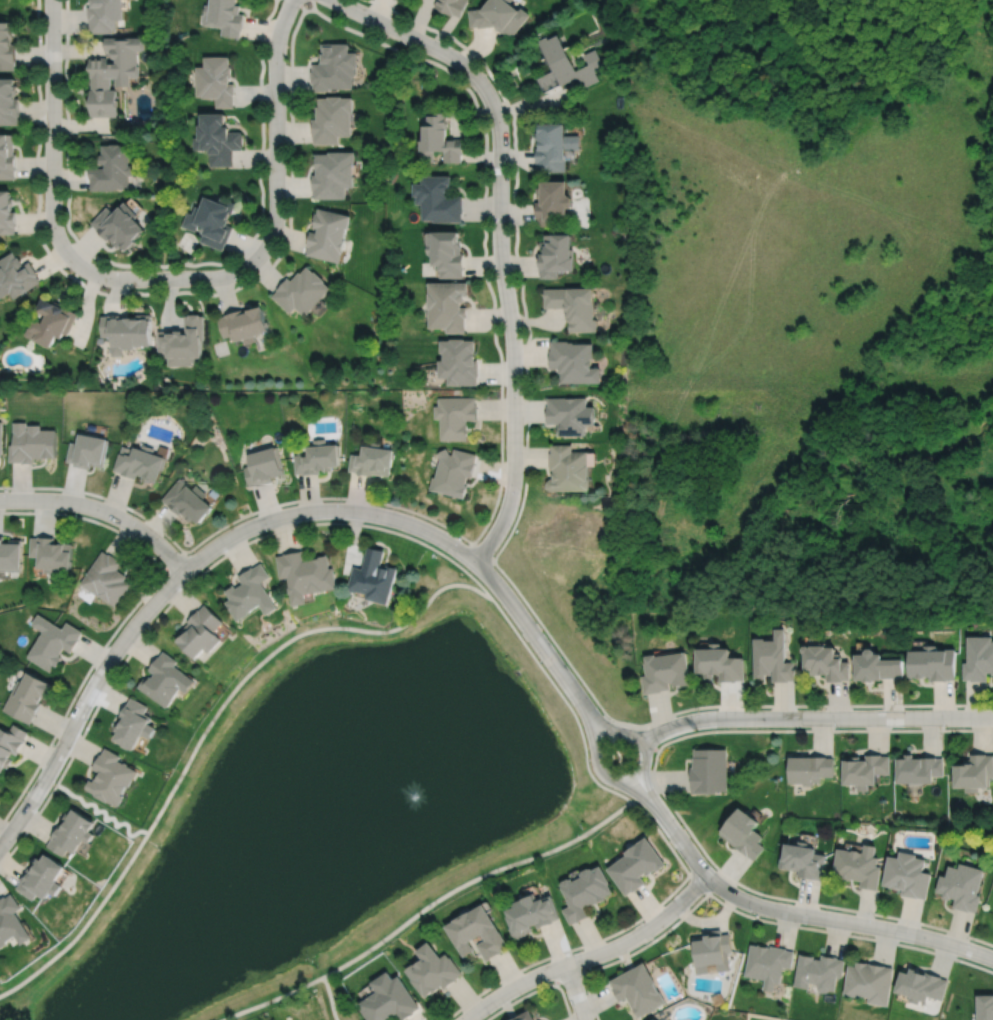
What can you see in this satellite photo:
building: (451, 5)
building: (104, 15)
building: (499, 15)
building: (223, 16)
road: (410, 36)
building: (6, 46)
building: (567, 63)
building: (334, 66)
building: (112, 73)
building: (214, 79)
building: (8, 101)
road: (475, 101)
building: (331, 118)
building: (216, 138)
building: (439, 139)
building: (553, 146)
building: (6, 156)
building: (112, 169)
building: (332, 174)
road: (276, 177)
road: (52, 182)
building: (438, 198)
building: (552, 202)
building: (6, 214)
building: (210, 220)
building: (119, 226)
building: (327, 234)
building: (446, 252)
building: (556, 255)
road: (165, 265)
building: (15, 276)
building: (300, 291)
building: (447, 305)
building: (572, 305)
building: (50, 323)
building: (242, 324)
road: (510, 324)
building: (127, 332)
building: (182, 342)
building: (459, 362)
building: (573, 362)
building: (568, 415)
building: (455, 416)
building: (0, 438)
building: (31, 444)
building: (87, 452)
building: (317, 458)
building: (372, 460)
building: (140, 463)
building: (262, 466)
building: (567, 470)
building: (453, 473)
building: (186, 502)
road: (102, 510)
road: (253, 526)
road: (510, 531)
road: (432, 548)
road: (483, 552)
building: (51, 556)
building: (10, 557)
road: (174, 561)
building: (305, 576)
building: (373, 578)
building: (107, 581)
building: (249, 595)
road: (124, 617)
building: (199, 633)
road: (137, 641)
building: (51, 643)
street lamp: (109, 643)
building: (978, 658)
building: (772, 659)
street lamp: (540, 662)
building: (933, 662)
building: (826, 663)
building: (719, 665)
building: (877, 665)
building: (663, 672)
building: (166, 679)
building: (26, 696)
road: (566, 703)
street lamp: (698, 711)
road: (829, 718)
road: (598, 720)
building: (133, 723)
road: (208, 725)
street lamp: (837, 728)
street lamp: (947, 728)
road: (590, 731)
road: (649, 733)
road: (650, 738)
road: (654, 739)
street lamp: (53, 742)
building: (10, 743)
road: (645, 754)
street lamp: (589, 761)
building: (809, 768)
building: (864, 769)
building: (918, 769)
building: (708, 770)
building: (974, 772)
building: (110, 777)
fountain: (419, 791)
road: (649, 792)
road: (661, 792)
road: (636, 795)
road: (103, 811)
park: (326, 815)
street lamp: (682, 825)
building: (71, 832)
building: (743, 833)
building: (803, 860)
building: (635, 865)
building: (858, 866)
building: (907, 875)
building: (41, 878)
road: (474, 879)
road: (698, 883)
building: (962, 886)
building: (585, 892)
building: (531, 914)
street lamp: (753, 914)
road: (809, 915)
road: (749, 916)
street lamp: (874, 917)
street lamp: (643, 921)
building: (10, 922)
building: (476, 933)
road: (613, 934)
street lamp: (974, 941)
building: (711, 952)
road: (592, 955)
building: (767, 964)
building: (431, 971)
building: (818, 972)
road: (566, 978)
street lamp: (551, 981)
building: (869, 982)
building: (921, 986)
road: (536, 990)
building: (638, 990)
road: (575, 992)
road: (329, 998)
road: (273, 999)
building: (387, 1000)
building: (985, 1007)
building: (525, 1016)
building: (654, 1019)

